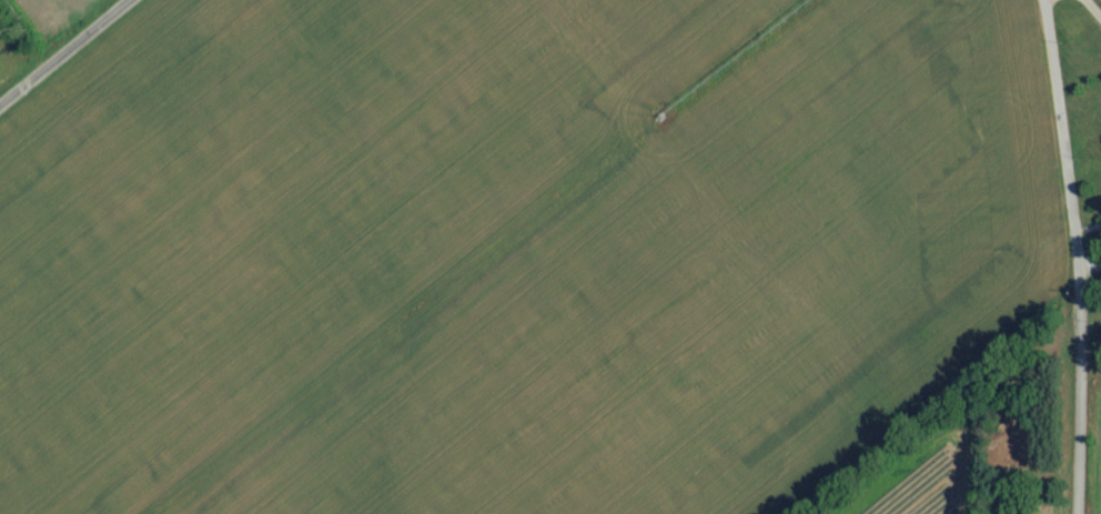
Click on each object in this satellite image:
road: (1091, 9)
road: (77, 62)
road: (1047, 256)

